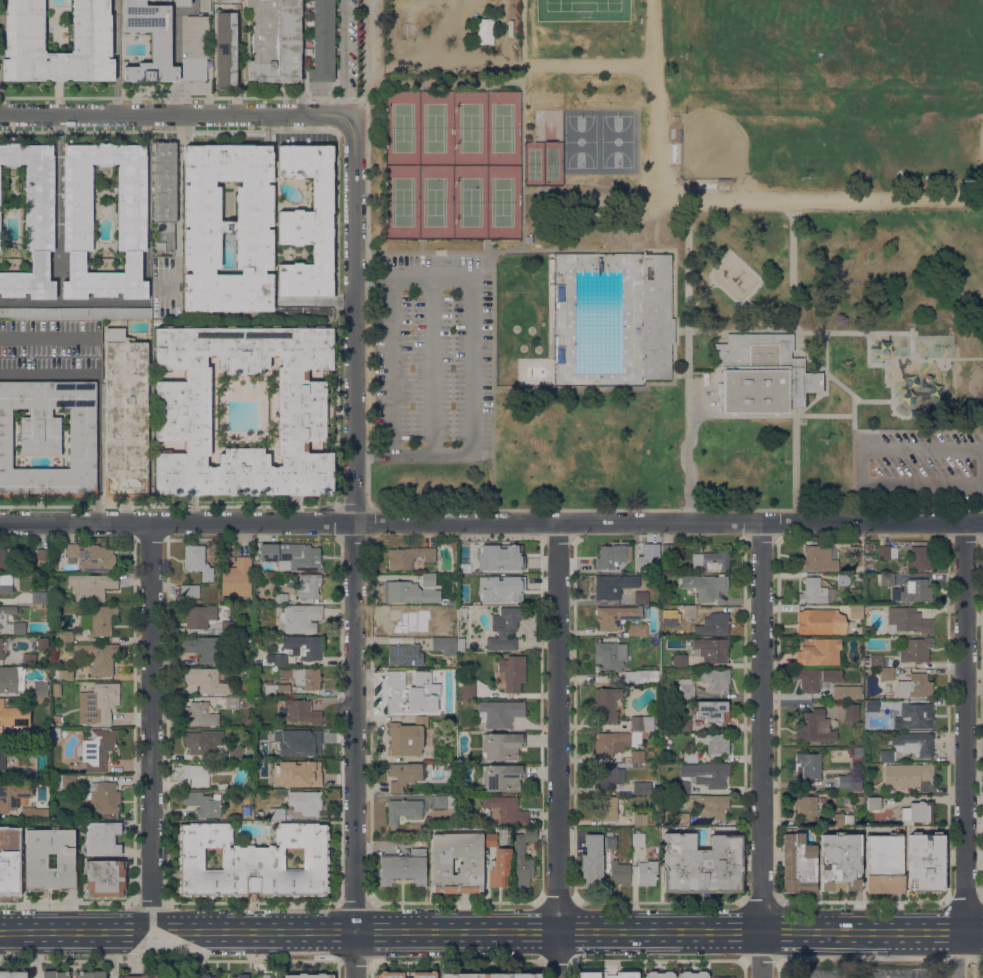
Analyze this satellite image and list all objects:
building: (182, 2)
building: (204, 6)
park: (582, 10)
building: (484, 31)
building: (25, 32)
road: (521, 32)
building: (275, 41)
building: (323, 42)
building: (166, 43)
building: (226, 48)
road: (116, 56)
road: (342, 56)
road: (367, 60)
road: (440, 60)
road: (588, 64)
park: (833, 88)
park: (756, 96)
park: (949, 109)
road: (175, 112)
park: (580, 140)
park: (617, 140)
road: (523, 159)
park: (541, 163)
park: (453, 164)
road: (534, 190)
building: (164, 193)
road: (731, 200)
road: (177, 204)
building: (131, 208)
road: (647, 209)
building: (33, 219)
building: (307, 221)
building: (228, 227)
road: (58, 236)
building: (528, 239)
road: (420, 244)
road: (485, 244)
road: (582, 249)
road: (429, 251)
road: (148, 252)
park: (674, 252)
road: (747, 264)
road: (419, 275)
road: (362, 276)
road: (675, 296)
road: (700, 296)
road: (730, 296)
road: (365, 301)
building: (304, 311)
building: (29, 312)
building: (105, 312)
building: (655, 316)
road: (846, 331)
road: (72, 332)
parking lot: (430, 356)
road: (687, 359)
road: (471, 363)
road: (817, 363)
road: (430, 365)
road: (391, 366)
road: (884, 372)
building: (761, 375)
road: (492, 378)
road: (604, 387)
parking lot: (700, 394)
road: (872, 399)
building: (305, 410)
road: (770, 414)
building: (125, 415)
road: (795, 418)
road: (917, 428)
building: (49, 437)
road: (920, 447)
road: (99, 450)
road: (364, 456)
road: (421, 456)
road: (863, 465)
parking lot: (920, 465)
road: (978, 465)
road: (921, 483)
road: (863, 502)
road: (979, 502)
road: (169, 504)
road: (354, 505)
road: (675, 508)
road: (491, 521)
road: (243, 539)
road: (355, 546)
building: (868, 547)
building: (73, 549)
building: (671, 549)
building: (653, 550)
building: (854, 551)
building: (886, 552)
building: (43, 554)
building: (612, 555)
building: (291, 556)
building: (408, 556)
building: (920, 557)
building: (97, 558)
road: (175, 558)
building: (817, 559)
building: (711, 560)
building: (5, 561)
building: (197, 561)
building: (500, 572)
building: (236, 577)
building: (842, 578)
building: (887, 579)
building: (6, 583)
building: (308, 585)
building: (613, 585)
building: (705, 585)
building: (92, 586)
building: (190, 590)
building: (413, 590)
building: (916, 590)
building: (816, 591)
building: (39, 597)
building: (280, 597)
building: (641, 597)
road: (738, 600)
road: (729, 607)
road: (943, 607)
building: (690, 610)
building: (855, 611)
building: (463, 613)
building: (439, 615)
building: (199, 616)
building: (616, 616)
building: (300, 617)
building: (3, 619)
building: (101, 619)
building: (908, 620)
building: (816, 621)
building: (399, 622)
building: (715, 624)
building: (19, 627)
building: (227, 627)
building: (504, 628)
building: (636, 629)
road: (529, 630)
building: (866, 630)
building: (66, 636)
road: (393, 639)
building: (42, 642)
building: (445, 644)
road: (538, 644)
building: (304, 646)
building: (203, 647)
building: (1, 649)
building: (711, 649)
building: (915, 649)
building: (819, 651)
building: (404, 654)
road: (432, 654)
building: (609, 656)
building: (98, 657)
building: (280, 658)
building: (28, 659)
building: (865, 659)
building: (680, 660)
building: (875, 660)
building: (513, 672)
building: (886, 673)
building: (66, 674)
building: (306, 676)
road: (591, 677)
building: (641, 677)
building: (816, 678)
building: (8, 679)
building: (715, 679)
building: (207, 680)
building: (915, 685)
building: (687, 688)
building: (40, 689)
building: (277, 689)
building: (468, 690)
building: (847, 692)
building: (412, 693)
building: (889, 694)
building: (37, 699)
building: (232, 702)
building: (98, 703)
building: (606, 704)
building: (872, 705)
building: (301, 710)
building: (712, 710)
building: (499, 712)
building: (851, 712)
road: (586, 713)
building: (199, 714)
building: (915, 716)
building: (13, 717)
building: (642, 723)
building: (682, 724)
road: (150, 726)
road: (536, 726)
road: (593, 726)
road: (726, 726)
road: (762, 726)
building: (816, 726)
road: (965, 726)
building: (55, 733)
building: (407, 737)
building: (634, 737)
road: (540, 739)
building: (297, 741)
building: (199, 742)
building: (713, 742)
building: (611, 743)
building: (914, 743)
building: (501, 746)
building: (98, 749)
road: (558, 749)
building: (235, 751)
building: (857, 753)
parking lot: (982, 753)
building: (886, 755)
building: (635, 756)
building: (690, 756)
road: (729, 757)
building: (2, 760)
building: (809, 764)
building: (297, 772)
road: (539, 772)
building: (197, 773)
building: (404, 774)
building: (709, 774)
building: (907, 774)
building: (25, 775)
building: (606, 775)
building: (502, 777)
building: (66, 781)
building: (848, 783)
building: (642, 787)
building: (681, 787)
road: (726, 790)
building: (13, 795)
building: (105, 797)
road: (391, 798)
building: (823, 799)
building: (859, 799)
building: (304, 801)
building: (444, 801)
building: (873, 802)
building: (203, 804)
building: (709, 805)
building: (807, 806)
building: (606, 807)
building: (403, 809)
building: (504, 809)
building: (246, 811)
building: (918, 812)
road: (979, 812)
building: (33, 813)
building: (277, 813)
road: (543, 815)
building: (640, 819)
building: (682, 819)
building: (842, 819)
road: (877, 828)
building: (15, 835)
building: (490, 835)
building: (102, 838)
building: (638, 838)
building: (610, 839)
building: (523, 857)
building: (35, 860)
building: (253, 860)
building: (592, 860)
building: (471, 861)
building: (925, 861)
building: (840, 862)
building: (701, 863)
building: (798, 863)
building: (884, 863)
building: (403, 866)
building: (500, 867)
building: (8, 869)
building: (619, 872)
building: (647, 872)
building: (105, 878)
road: (905, 880)
road: (401, 881)
building: (982, 888)
road: (402, 890)
road: (499, 895)
road: (863, 901)
road: (982, 901)
road: (456, 902)
road: (230, 931)
road: (331, 931)
road: (381, 931)
road: (458, 931)
road: (532, 931)
road: (599, 931)
road: (660, 931)
road: (720, 931)
road: (784, 931)
road: (827, 931)
road: (901, 931)
road: (47, 932)
road: (123, 932)
road: (961, 932)
road: (974, 932)
road: (134, 952)
road: (760, 954)
road: (35, 955)
road: (956, 955)
building: (12, 974)
building: (309, 974)
building: (406, 974)
building: (589, 974)
building: (627, 974)
building: (659, 974)
building: (692, 974)
road: (134, 975)
building: (491, 975)
building: (91, 976)
building: (146, 976)
building: (207, 976)
building: (240, 976)
building: (263, 976)
building: (723, 977)

